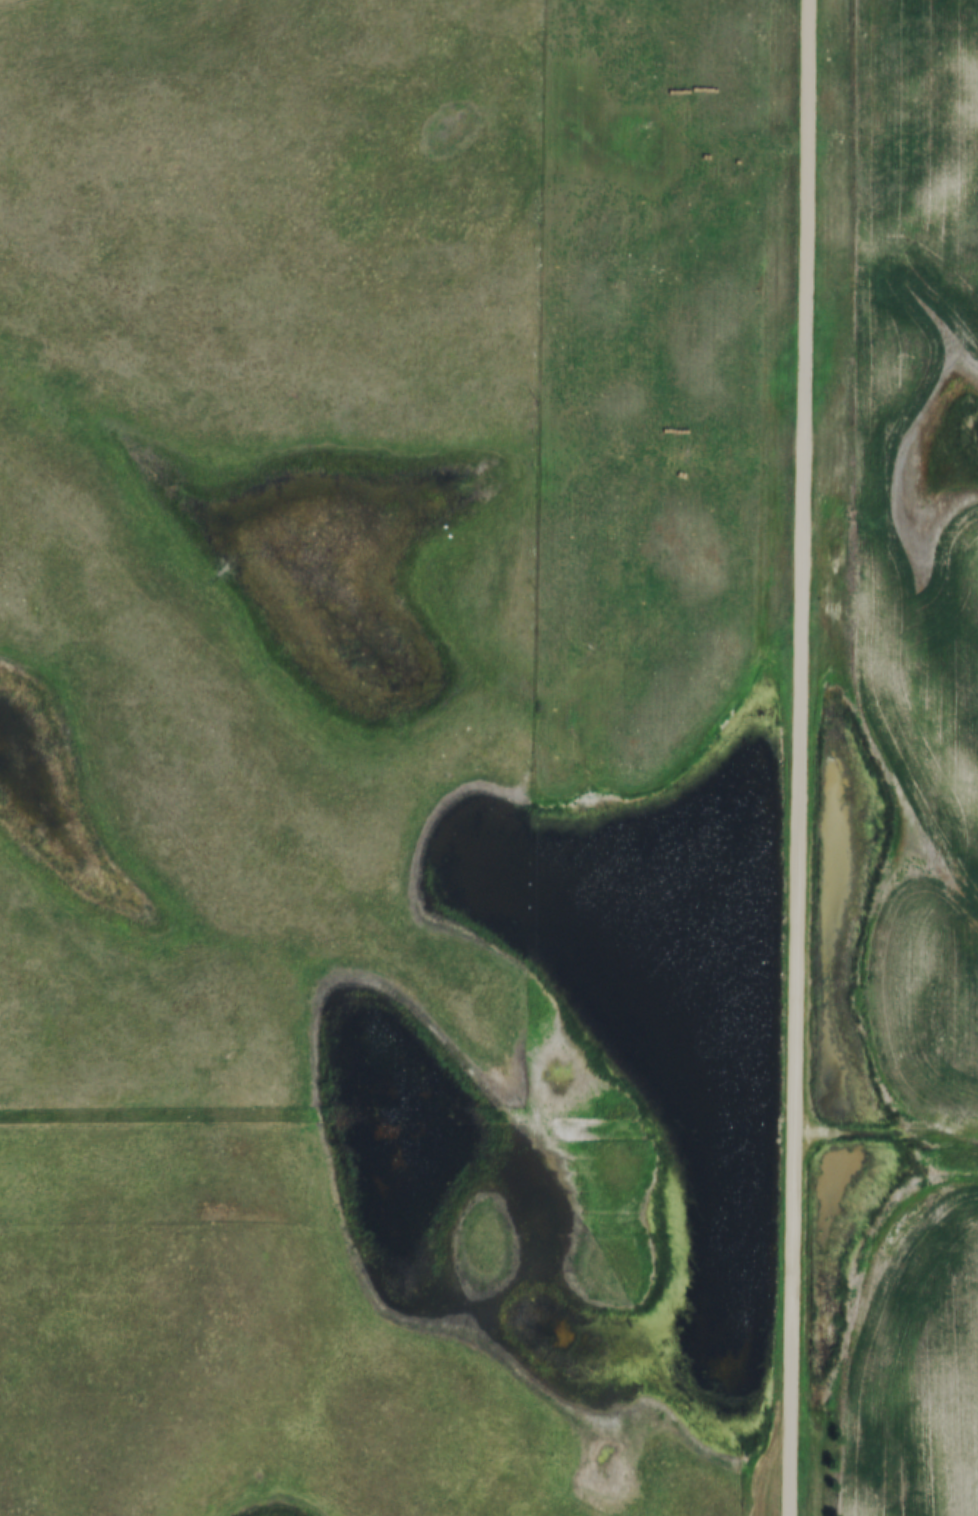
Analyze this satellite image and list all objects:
road: (800, 757)
road: (887, 1130)

